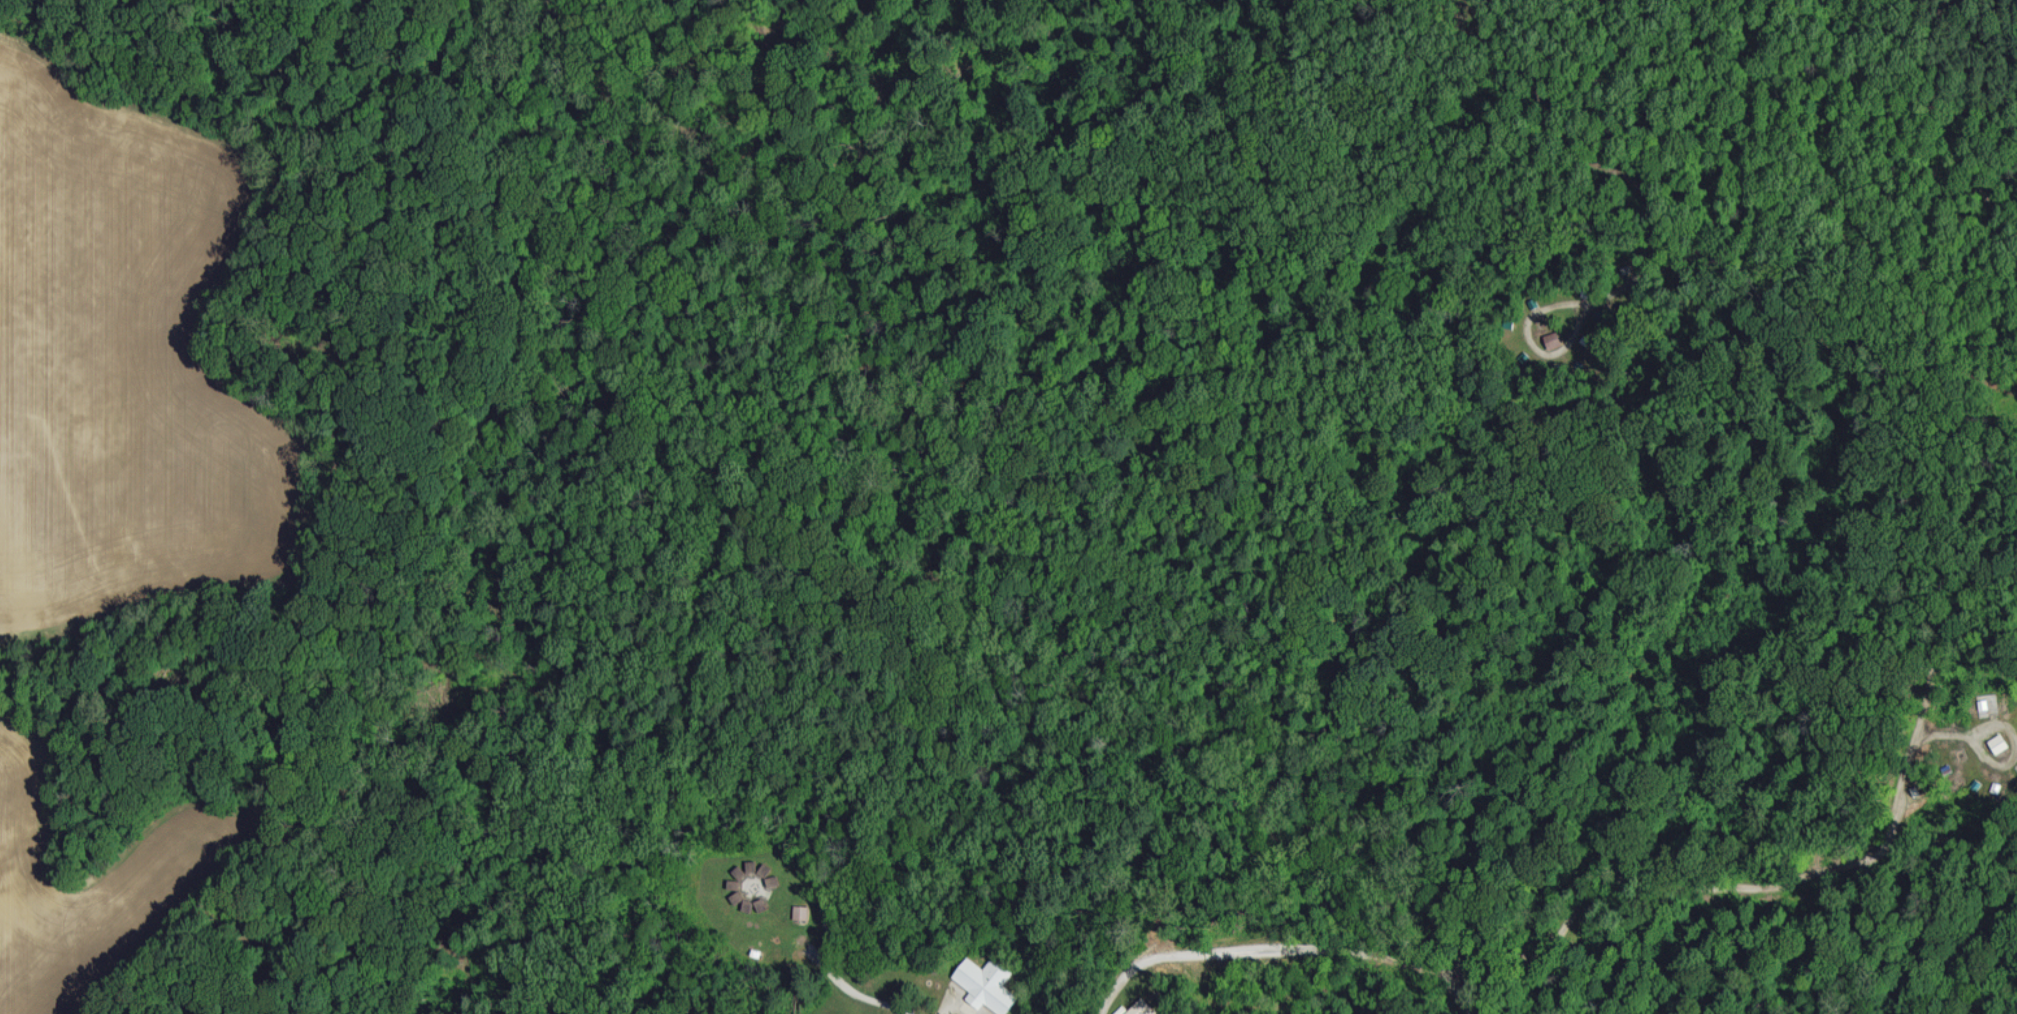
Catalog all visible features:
building: (1553, 339)
building: (1999, 742)
road: (1505, 866)
building: (764, 869)
road: (1954, 870)
building: (801, 911)
building: (987, 984)
road: (854, 992)
building: (1141, 1007)

